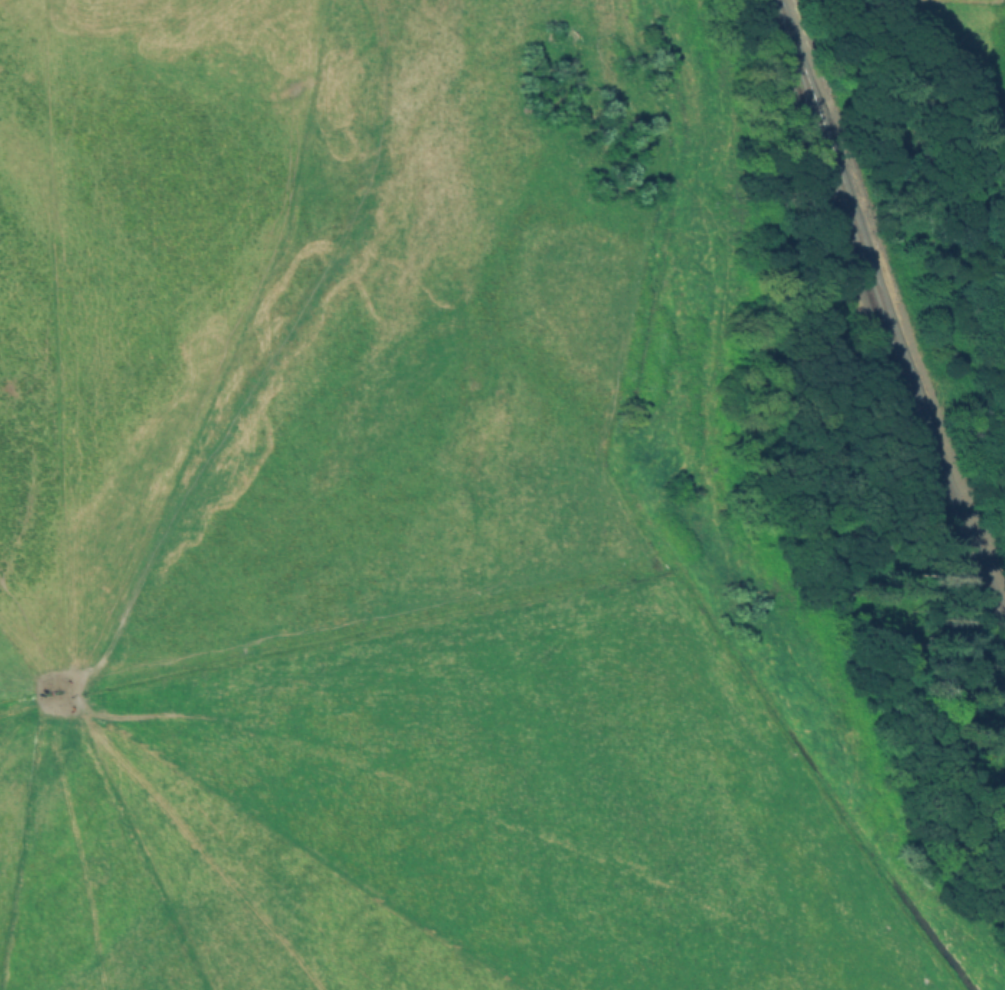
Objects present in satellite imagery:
railway: (885, 309)
railway: (875, 322)

